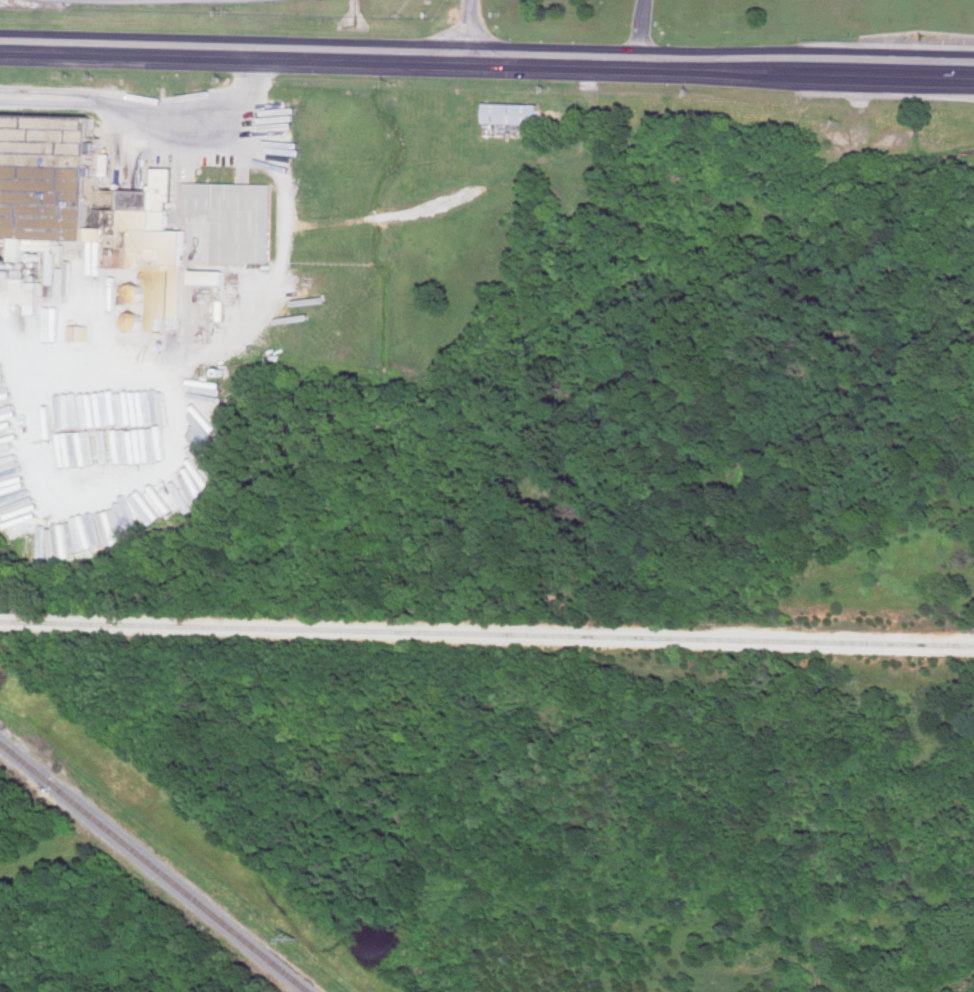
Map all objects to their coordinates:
road: (467, 30)
road: (633, 32)
road: (487, 61)
building: (512, 111)
road: (154, 114)
building: (85, 200)
building: (236, 218)
building: (209, 275)
building: (28, 292)
railway: (487, 632)
railway: (152, 864)

